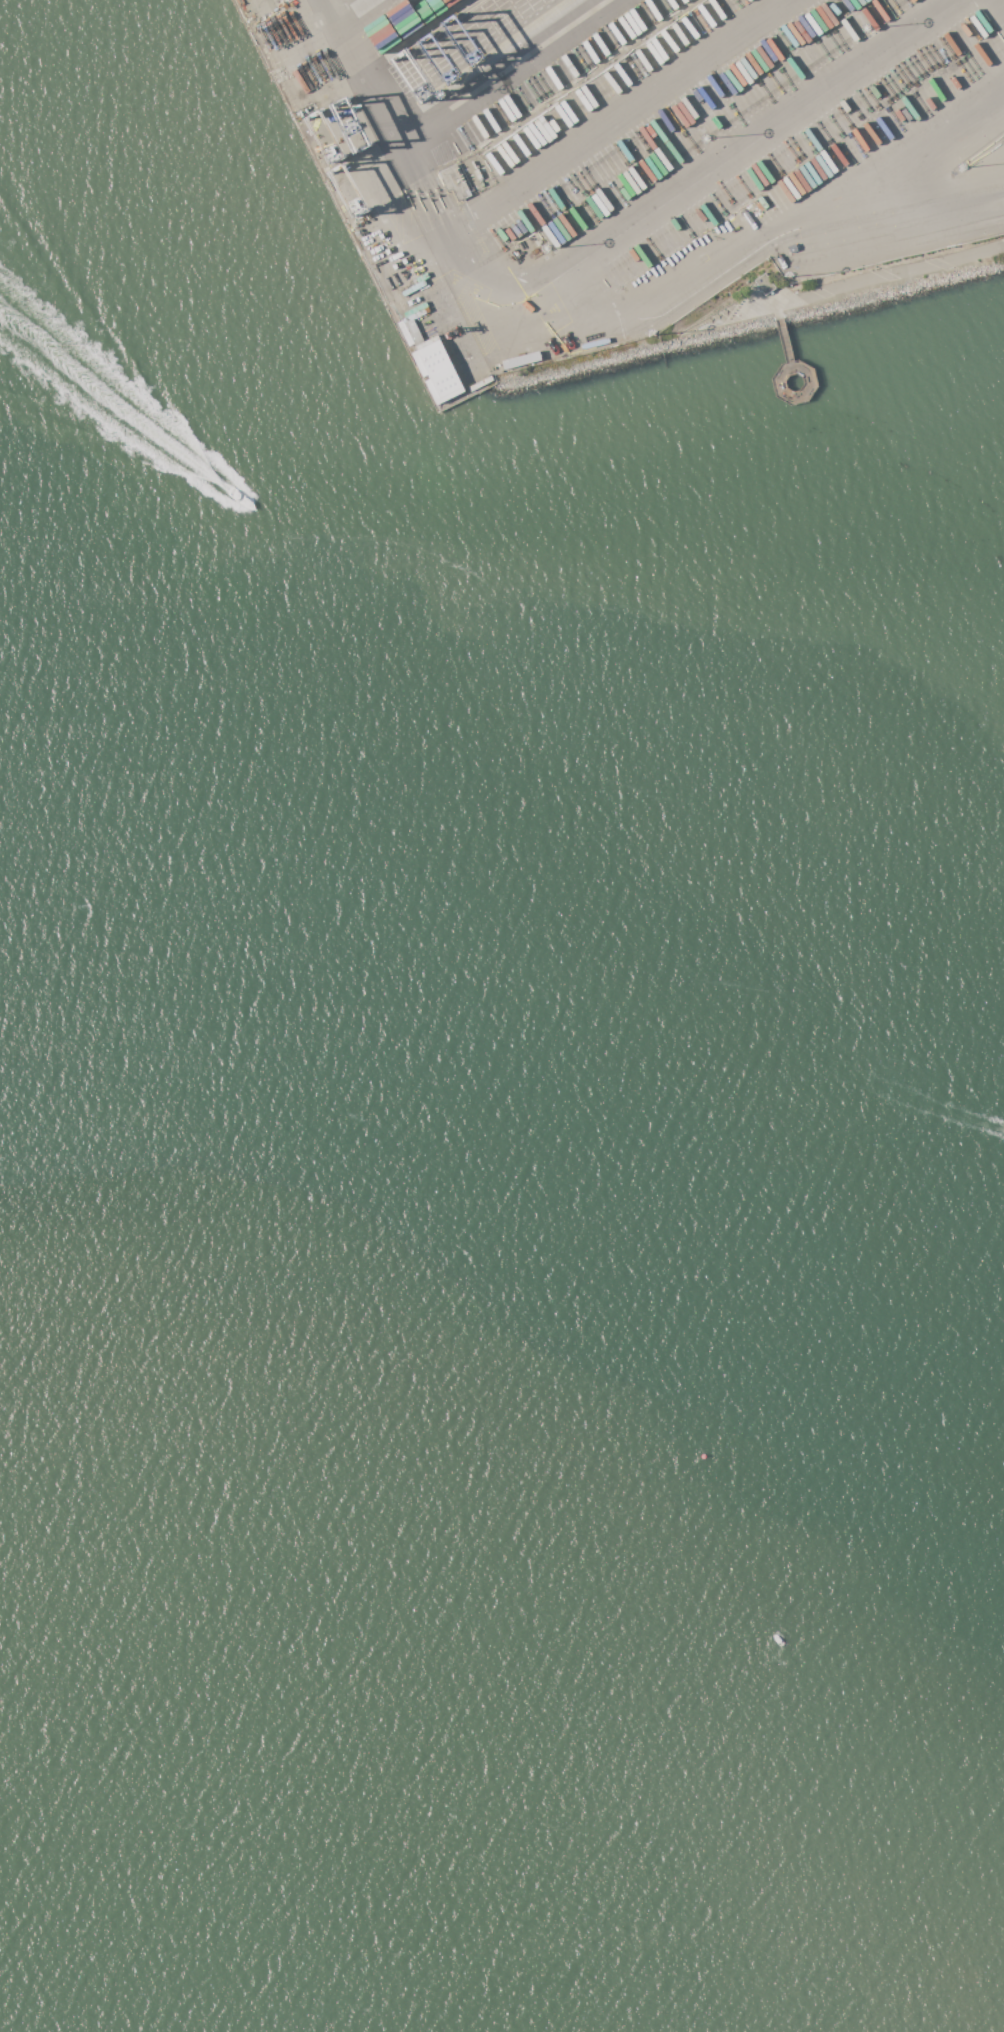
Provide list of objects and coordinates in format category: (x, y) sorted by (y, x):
road: (1003, 1)
building: (428, 8)
road: (355, 9)
road: (497, 69)
road: (613, 118)
road: (594, 253)
building: (765, 284)
road: (855, 287)
park: (838, 289)
building: (413, 332)
building: (585, 337)
pier: (784, 337)
building: (522, 362)
building: (437, 371)
pier: (810, 380)
pier: (779, 381)
building: (480, 384)

